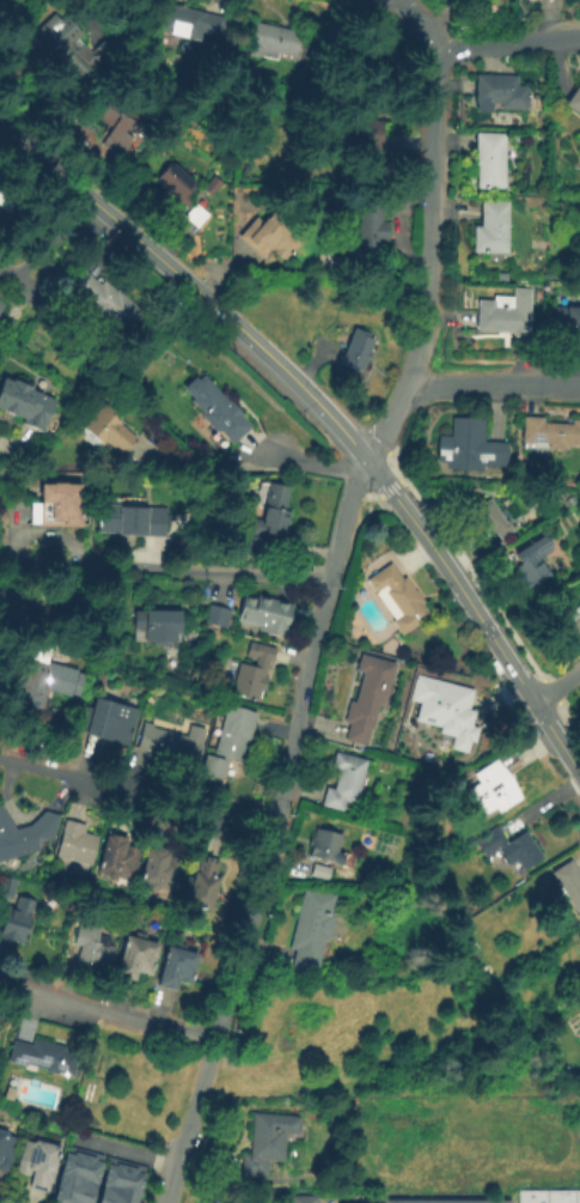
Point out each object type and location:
road: (102, 14)
building: (188, 24)
road: (475, 38)
building: (273, 43)
building: (63, 45)
building: (499, 93)
building: (574, 101)
building: (118, 124)
building: (365, 138)
building: (489, 160)
building: (175, 186)
building: (210, 187)
building: (195, 217)
building: (368, 227)
building: (492, 227)
road: (431, 232)
building: (271, 237)
road: (56, 251)
road: (188, 285)
building: (398, 287)
building: (108, 302)
building: (2, 306)
building: (505, 314)
building: (566, 321)
building: (356, 351)
road: (310, 367)
road: (493, 385)
building: (26, 403)
building: (214, 409)
building: (105, 431)
building: (550, 433)
building: (469, 448)
road: (12, 457)
road: (311, 463)
road: (225, 468)
road: (387, 487)
road: (366, 494)
building: (56, 506)
building: (270, 516)
building: (129, 520)
building: (490, 522)
road: (463, 557)
road: (165, 567)
building: (533, 569)
building: (397, 600)
building: (18, 608)
building: (579, 610)
road: (476, 615)
building: (267, 616)
building: (214, 618)
building: (157, 625)
building: (575, 627)
building: (249, 674)
road: (555, 686)
road: (500, 691)
road: (547, 694)
building: (30, 695)
building: (367, 699)
building: (444, 707)
road: (511, 712)
building: (110, 722)
road: (568, 722)
building: (228, 743)
building: (167, 746)
road: (526, 749)
building: (344, 783)
building: (492, 791)
road: (136, 794)
road: (276, 813)
building: (19, 834)
building: (74, 845)
building: (325, 847)
building: (508, 849)
building: (116, 858)
building: (161, 869)
building: (318, 874)
building: (203, 885)
building: (568, 886)
building: (6, 889)
building: (17, 923)
building: (312, 930)
building: (91, 946)
building: (136, 959)
building: (177, 968)
building: (578, 979)
road: (106, 1013)
building: (45, 1059)
building: (267, 1142)
road: (121, 1150)
building: (5, 1153)
building: (36, 1163)
building: (68, 1177)
building: (87, 1178)
building: (111, 1181)
building: (132, 1184)
road: (171, 1184)
building: (530, 1196)
building: (558, 1196)
building: (576, 1196)
building: (301, 1199)
building: (447, 1199)
building: (210, 1201)

